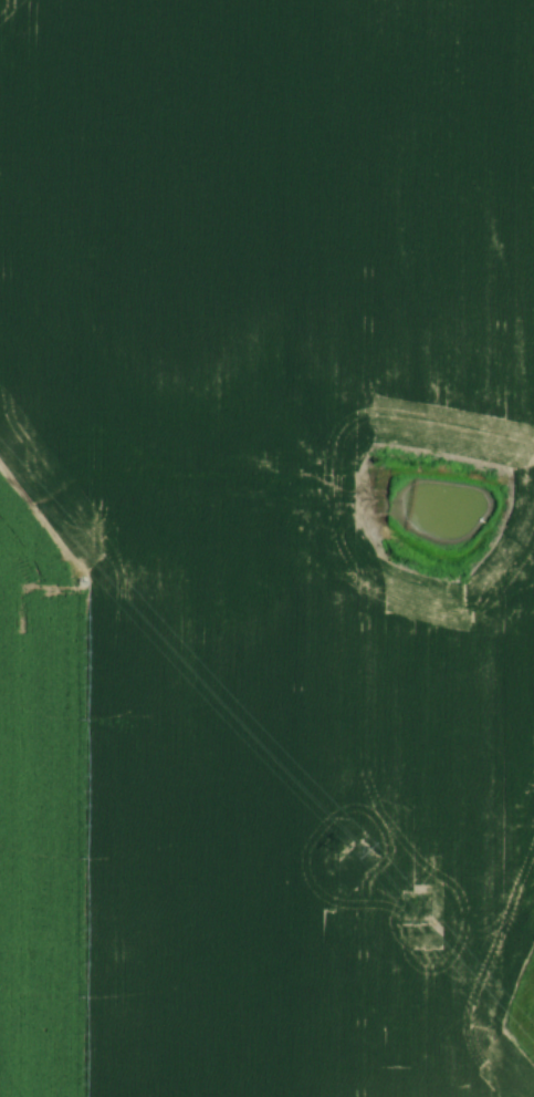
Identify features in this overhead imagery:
power tower: (345, 851)

